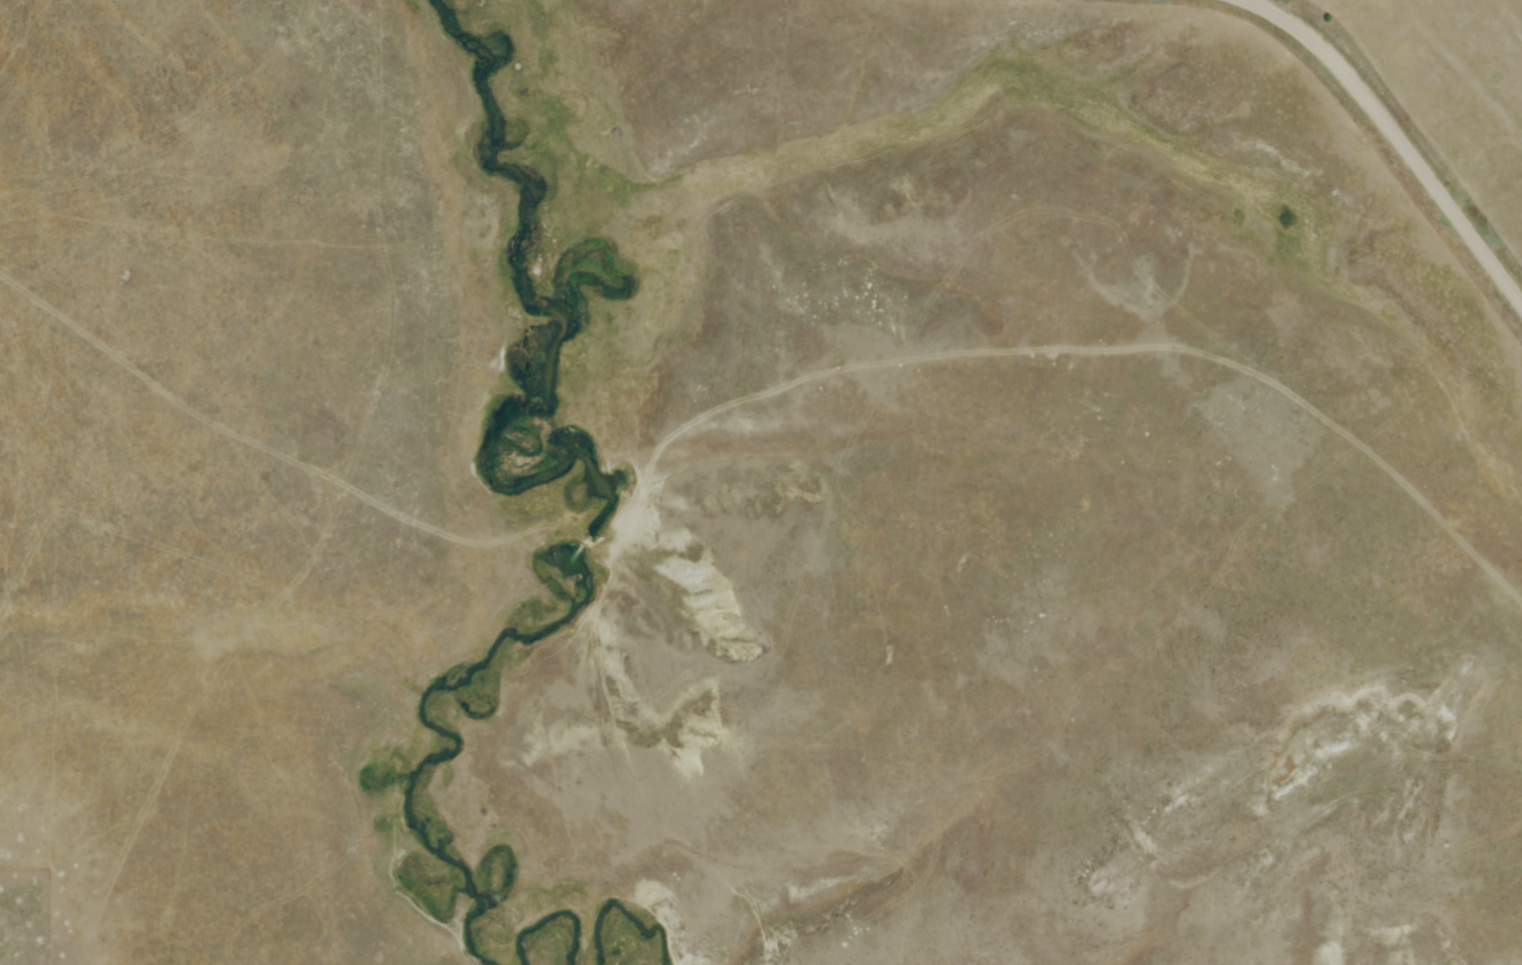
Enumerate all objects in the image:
road: (1400, 135)

